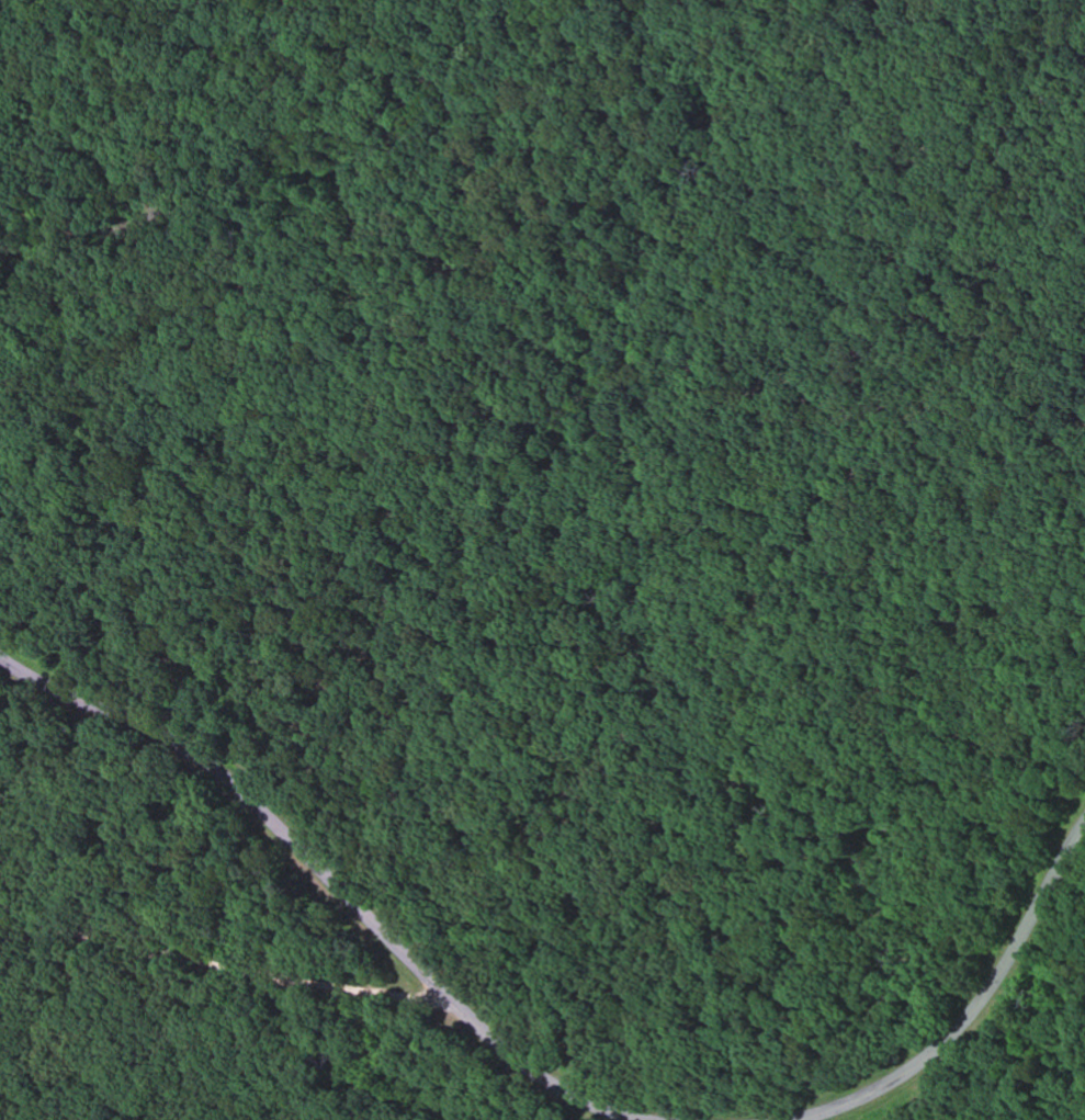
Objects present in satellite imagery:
road: (324, 875)
road: (227, 892)
road: (226, 970)
road: (975, 1010)

